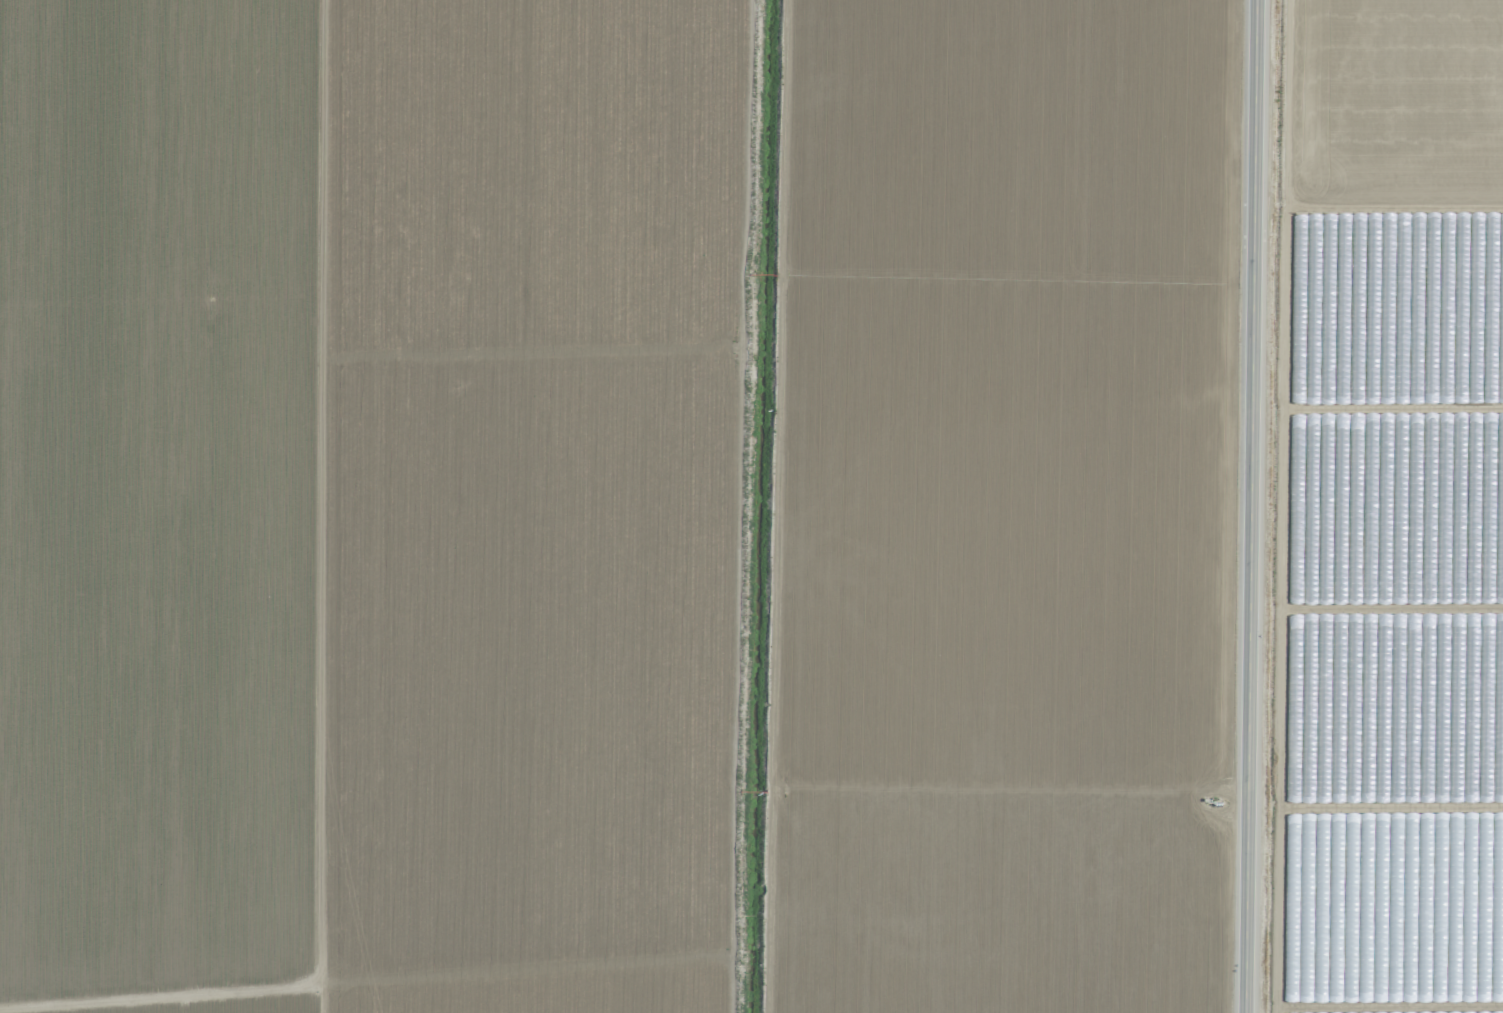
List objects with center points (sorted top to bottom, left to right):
crop: (620, 505)
road: (1250, 506)
crop: (1388, 510)

